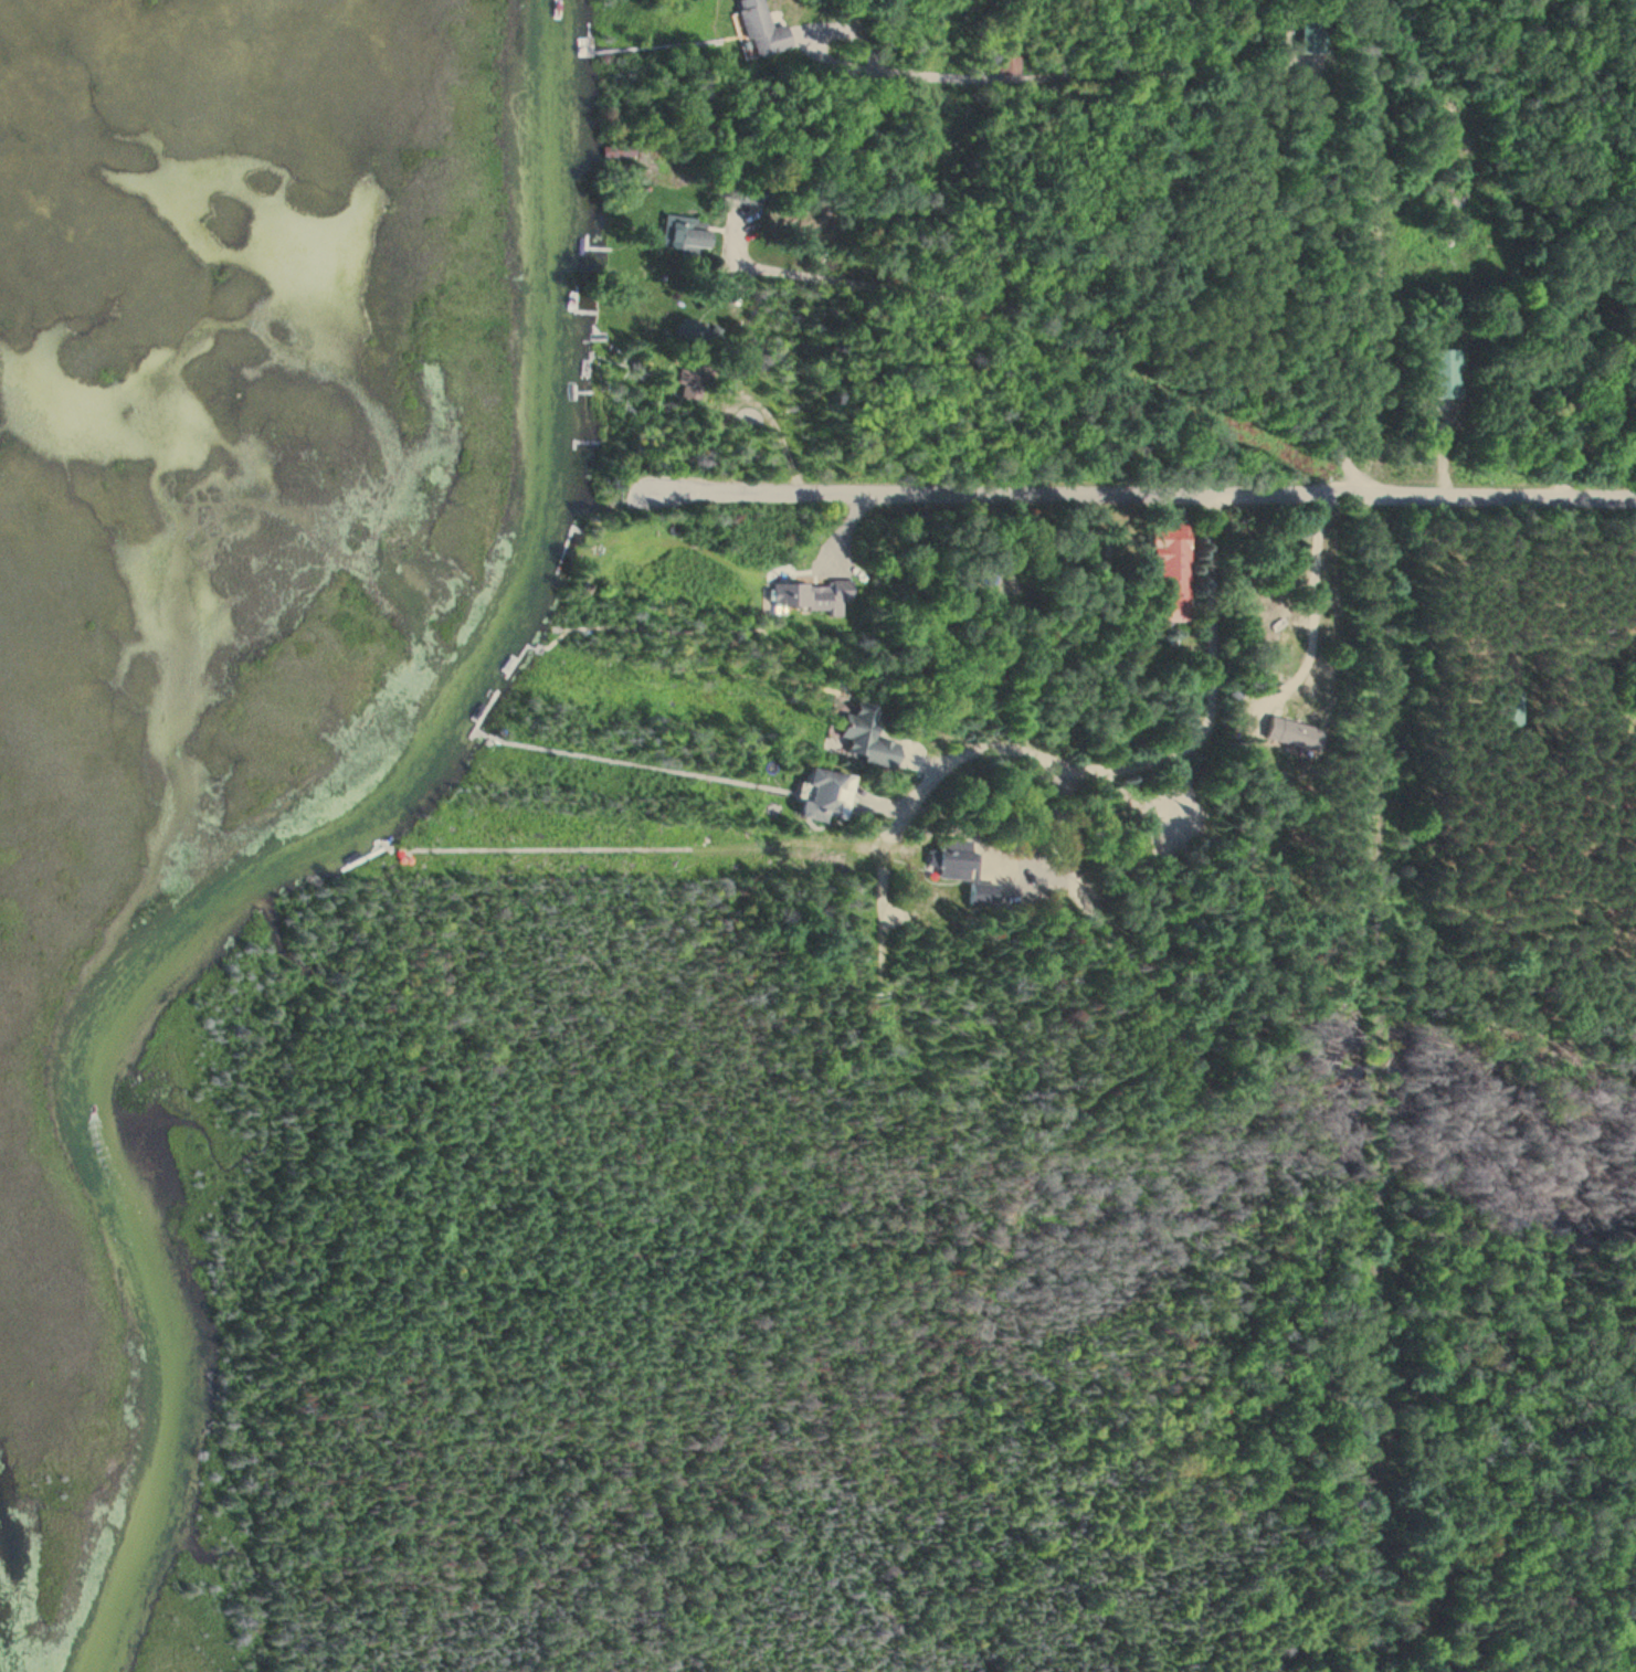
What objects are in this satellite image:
building: (758, 31)
building: (1308, 38)
road: (1046, 77)
building: (683, 241)
road: (1254, 300)
road: (998, 308)
building: (1438, 375)
building: (1595, 412)
road: (777, 422)
road: (730, 436)
road: (980, 497)
road: (1330, 500)
road: (1489, 500)
building: (1165, 574)
building: (810, 596)
building: (1287, 642)
building: (1512, 705)
building: (1290, 734)
building: (862, 738)
road: (1136, 770)
building: (817, 796)
road: (1379, 835)
river: (312, 853)

